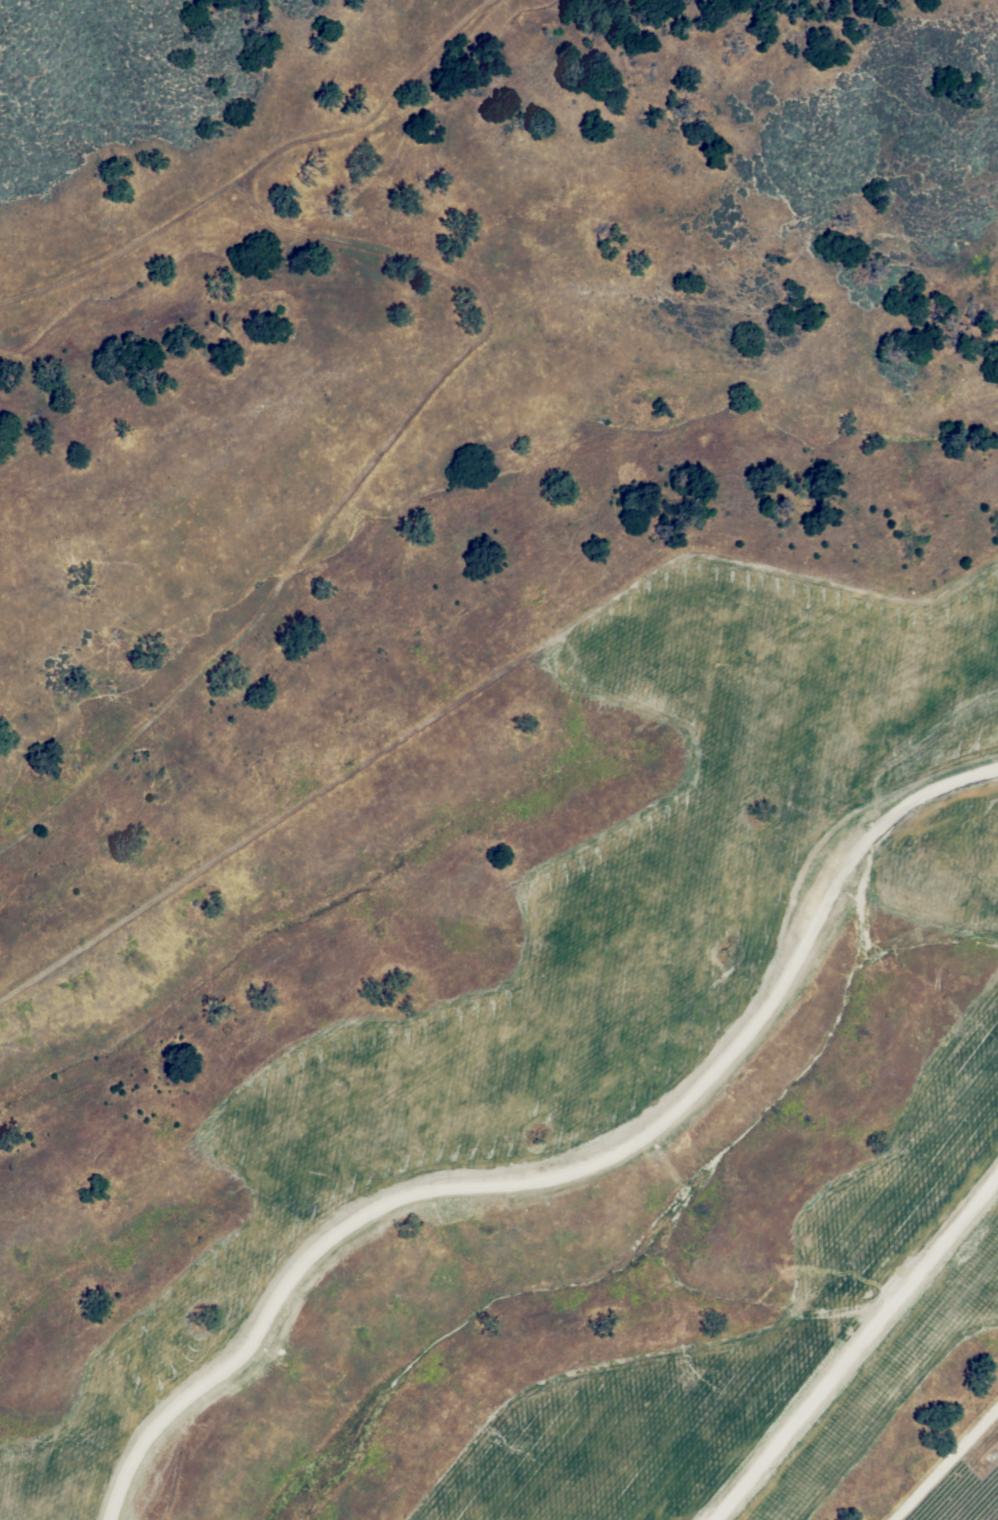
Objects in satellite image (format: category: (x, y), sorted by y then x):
road: (857, 1348)

